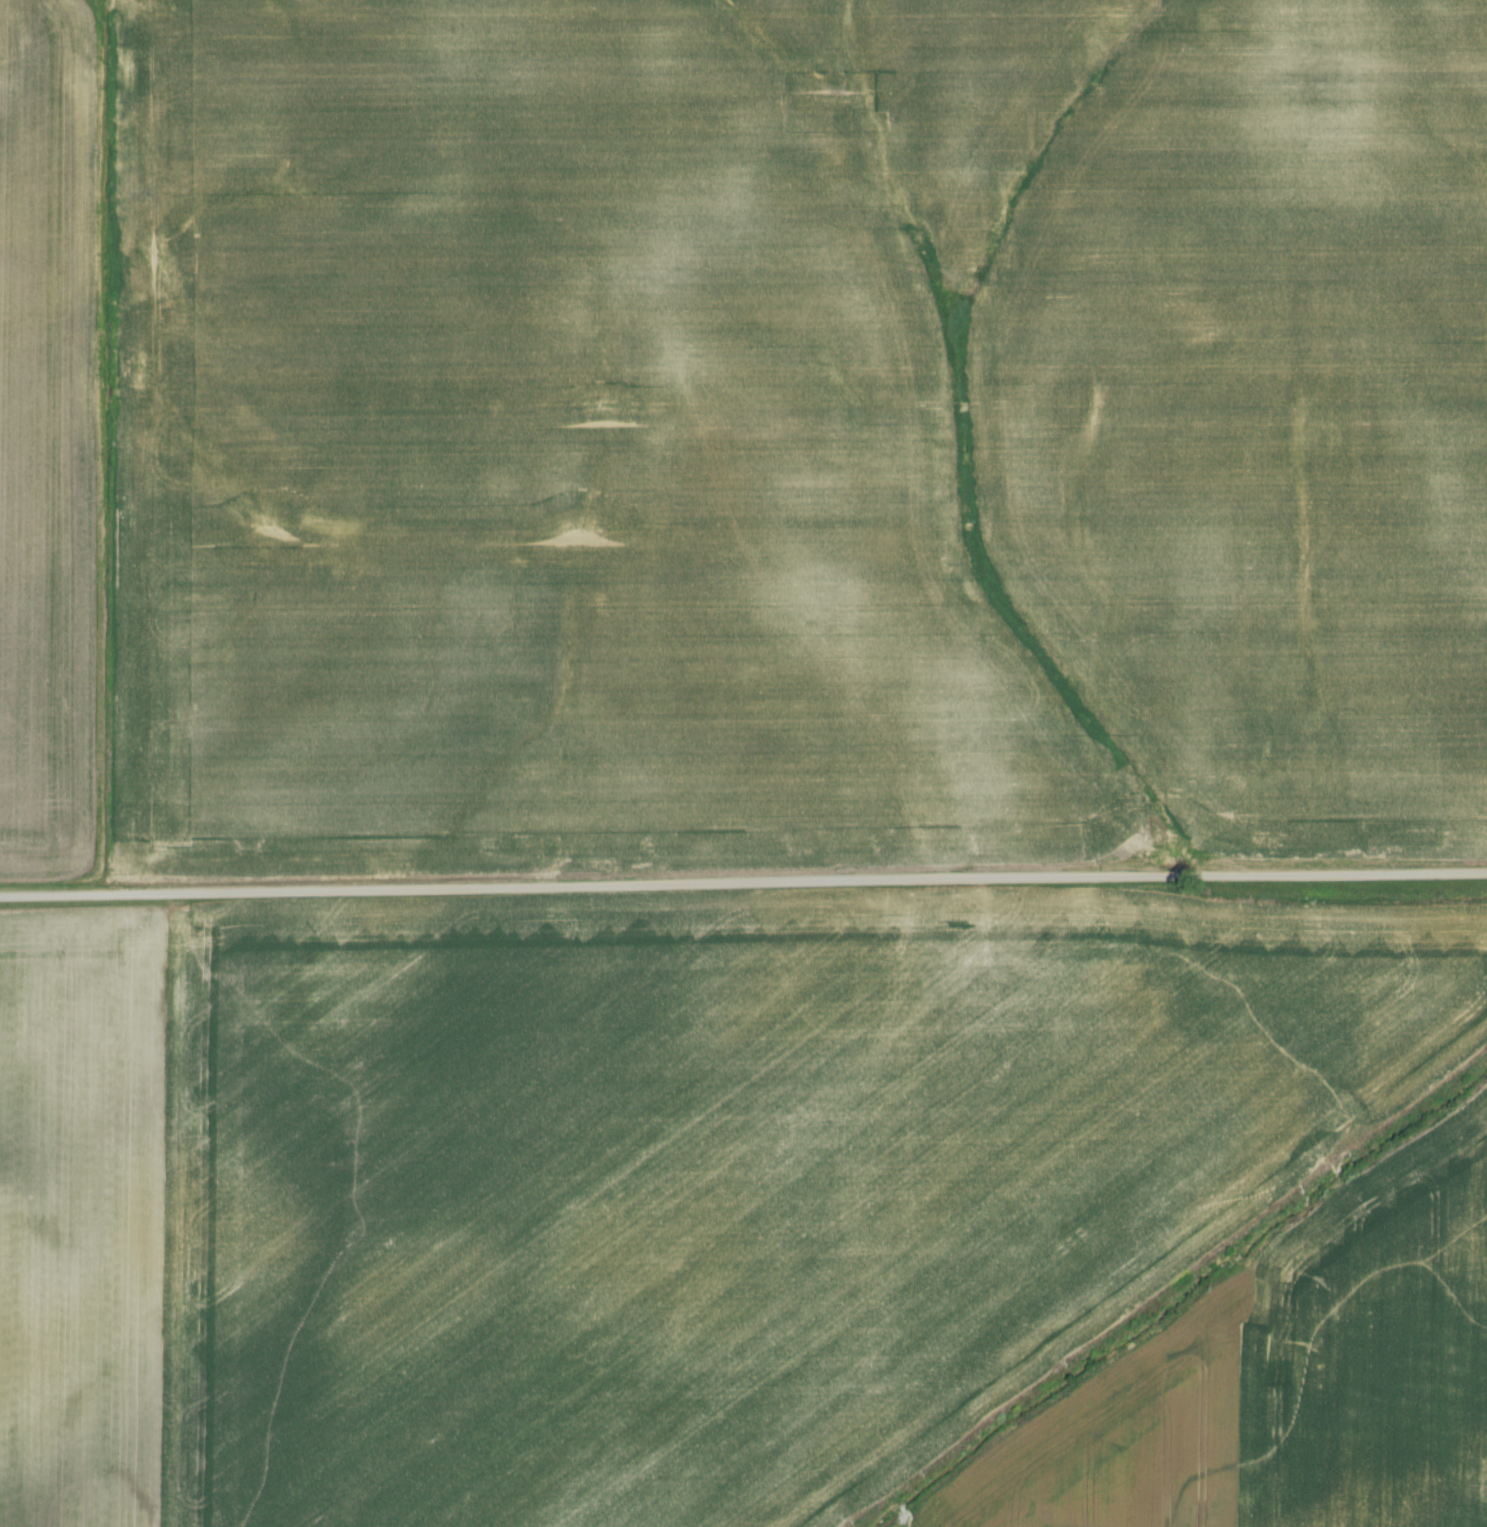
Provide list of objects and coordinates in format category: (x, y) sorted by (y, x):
road: (743, 880)

